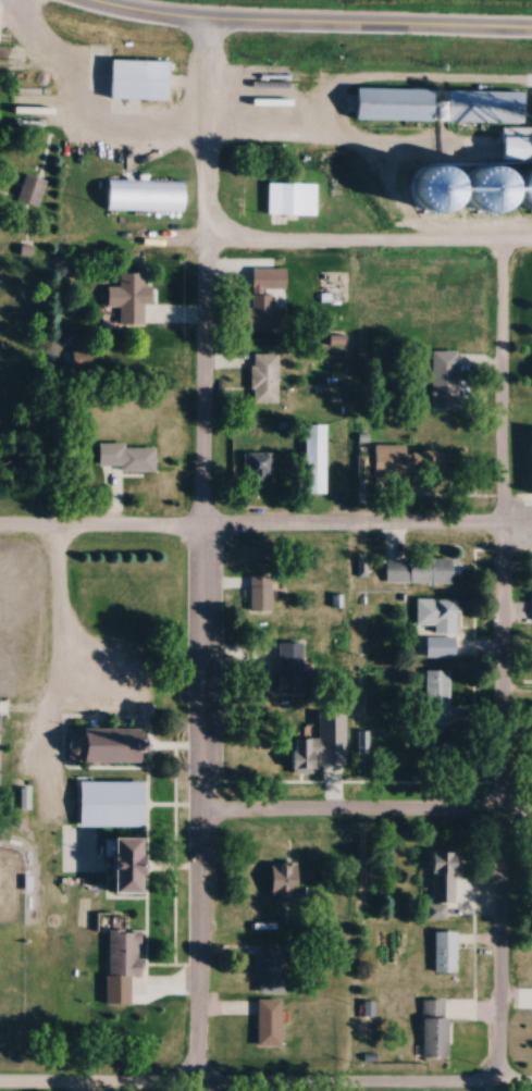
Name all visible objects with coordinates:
road: (304, 26)
building: (136, 78)
building: (391, 104)
building: (477, 106)
road: (75, 125)
road: (455, 172)
building: (503, 179)
building: (32, 189)
building: (144, 195)
building: (290, 199)
road: (369, 247)
building: (126, 298)
building: (260, 301)
building: (262, 377)
building: (444, 379)
building: (124, 457)
building: (313, 457)
building: (403, 460)
building: (529, 462)
building: (258, 464)
road: (265, 530)
road: (202, 555)
building: (416, 569)
building: (259, 592)
building: (436, 624)
building: (287, 666)
road: (502, 667)
road: (59, 671)
building: (436, 697)
building: (101, 743)
building: (316, 744)
building: (445, 755)
road: (366, 814)
building: (82, 835)
building: (437, 863)
building: (279, 879)
building: (436, 909)
building: (442, 950)
building: (121, 954)
building: (268, 967)
building: (267, 1021)
building: (430, 1027)
road: (265, 1088)

